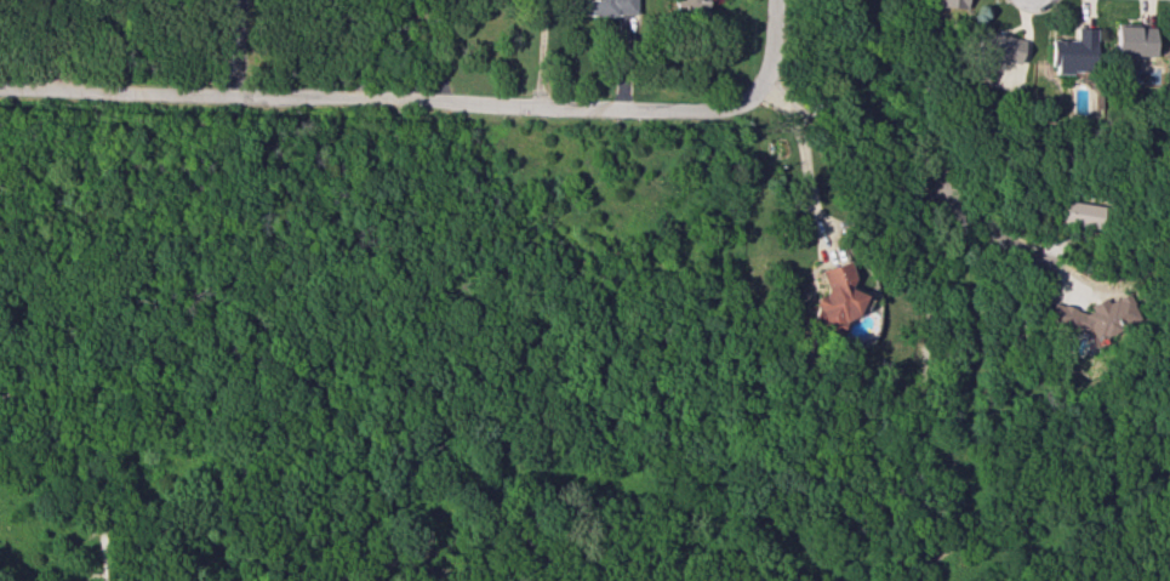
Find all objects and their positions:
building: (947, 2)
building: (692, 6)
building: (604, 7)
road: (74, 33)
building: (1129, 40)
road: (216, 46)
building: (994, 46)
road: (381, 49)
road: (443, 50)
road: (538, 51)
building: (1169, 51)
building: (1071, 52)
road: (765, 57)
road: (367, 97)
road: (801, 150)
building: (1075, 213)
building: (832, 298)
building: (1090, 315)
road: (85, 465)
road: (103, 577)

